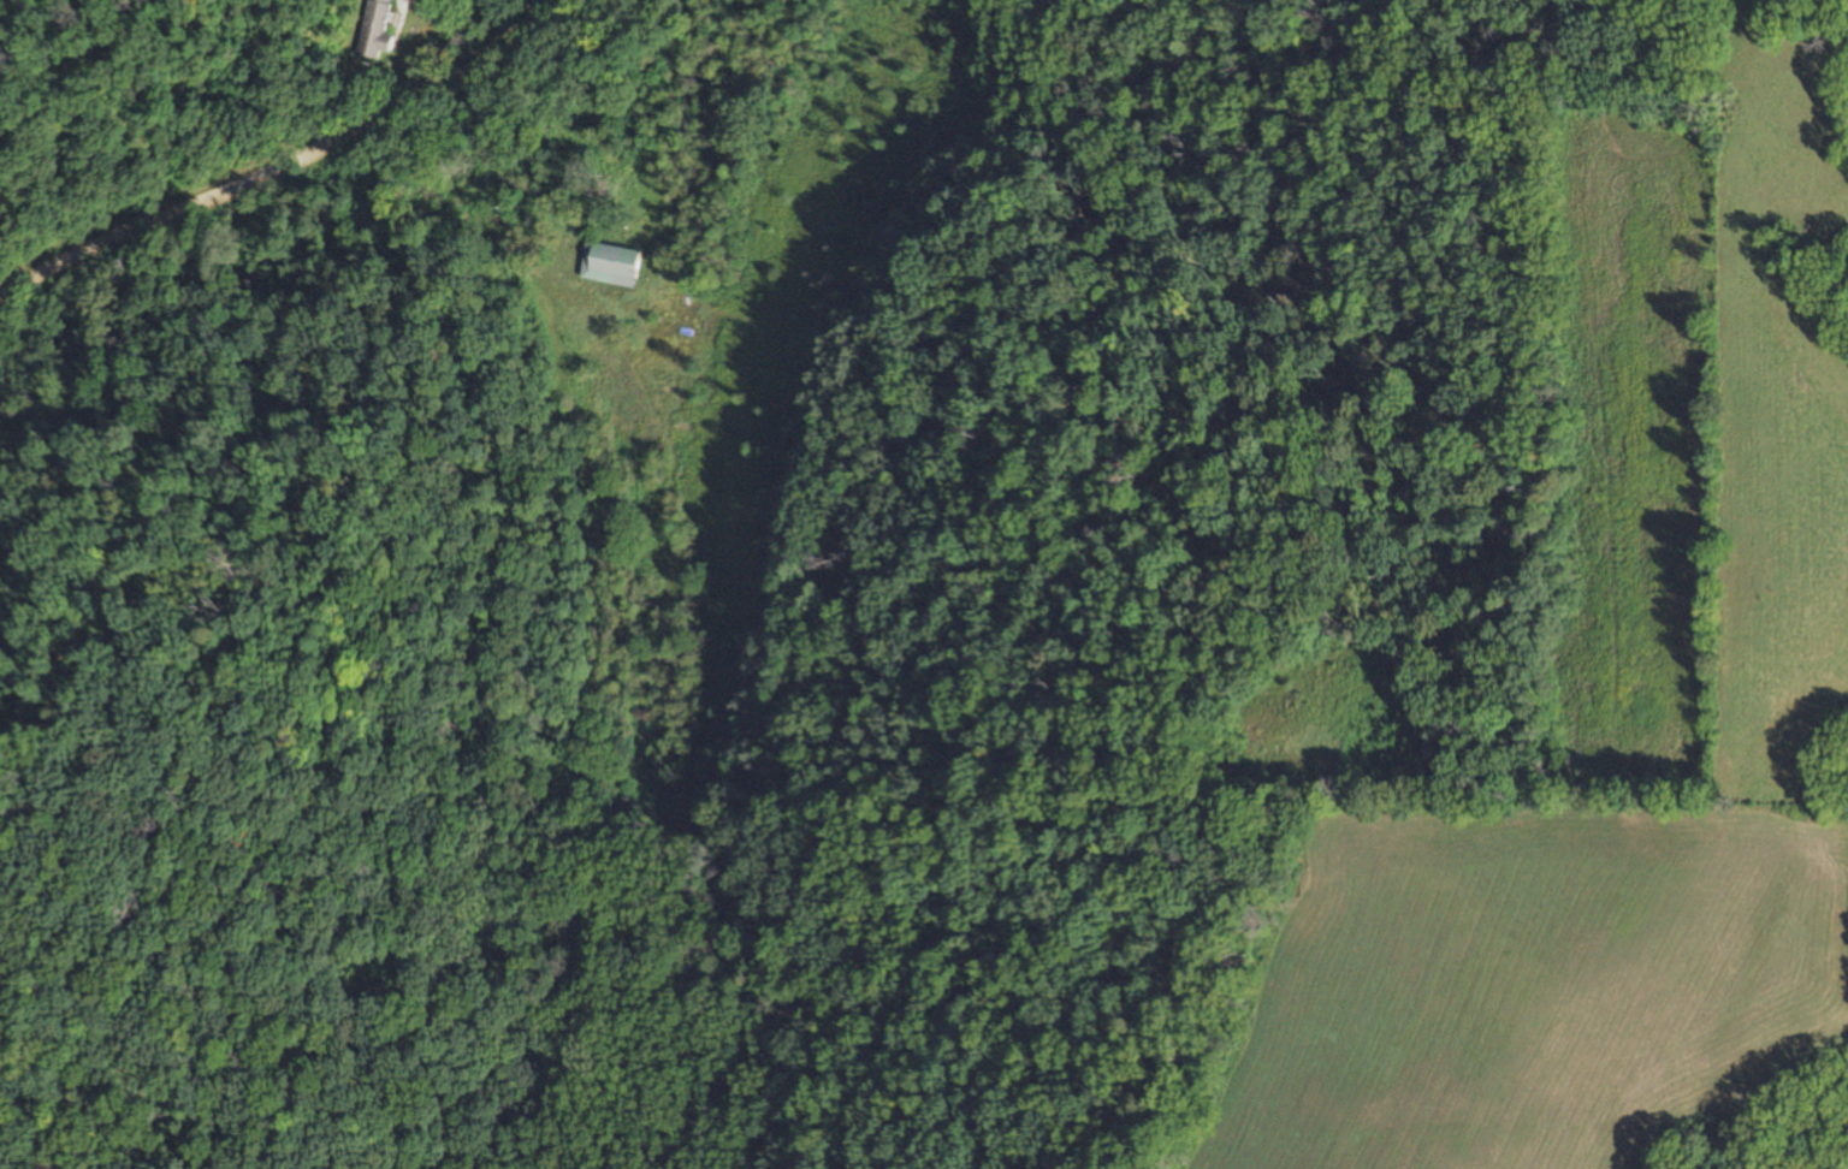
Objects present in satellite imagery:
building: (375, 34)
road: (283, 182)
building: (611, 263)

